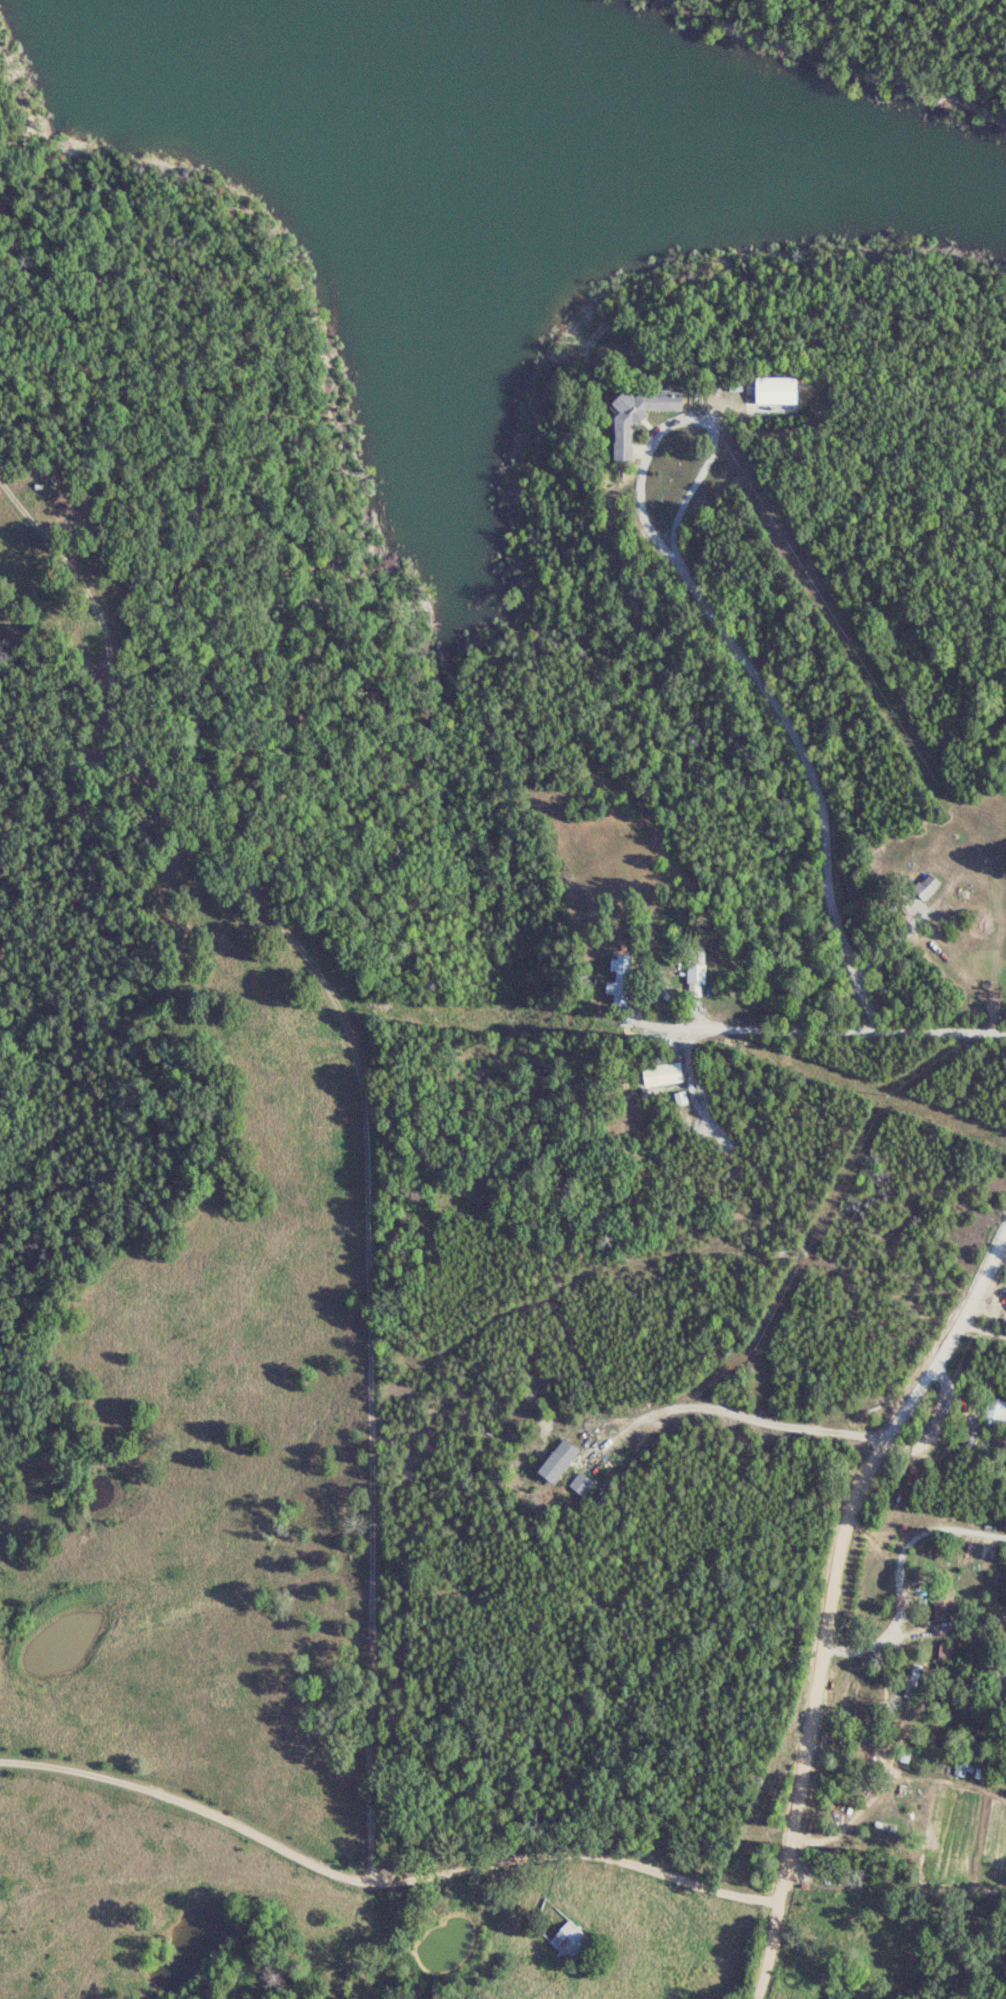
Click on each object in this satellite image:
building: (775, 389)
building: (637, 414)
road: (724, 636)
building: (926, 885)
building: (696, 972)
building: (621, 978)
road: (830, 1034)
building: (662, 1073)
building: (998, 1408)
road: (602, 1424)
road: (775, 1425)
building: (558, 1460)
building: (581, 1483)
road: (831, 1600)
building: (943, 1608)
road: (865, 1650)
road: (382, 1882)
building: (569, 1939)

